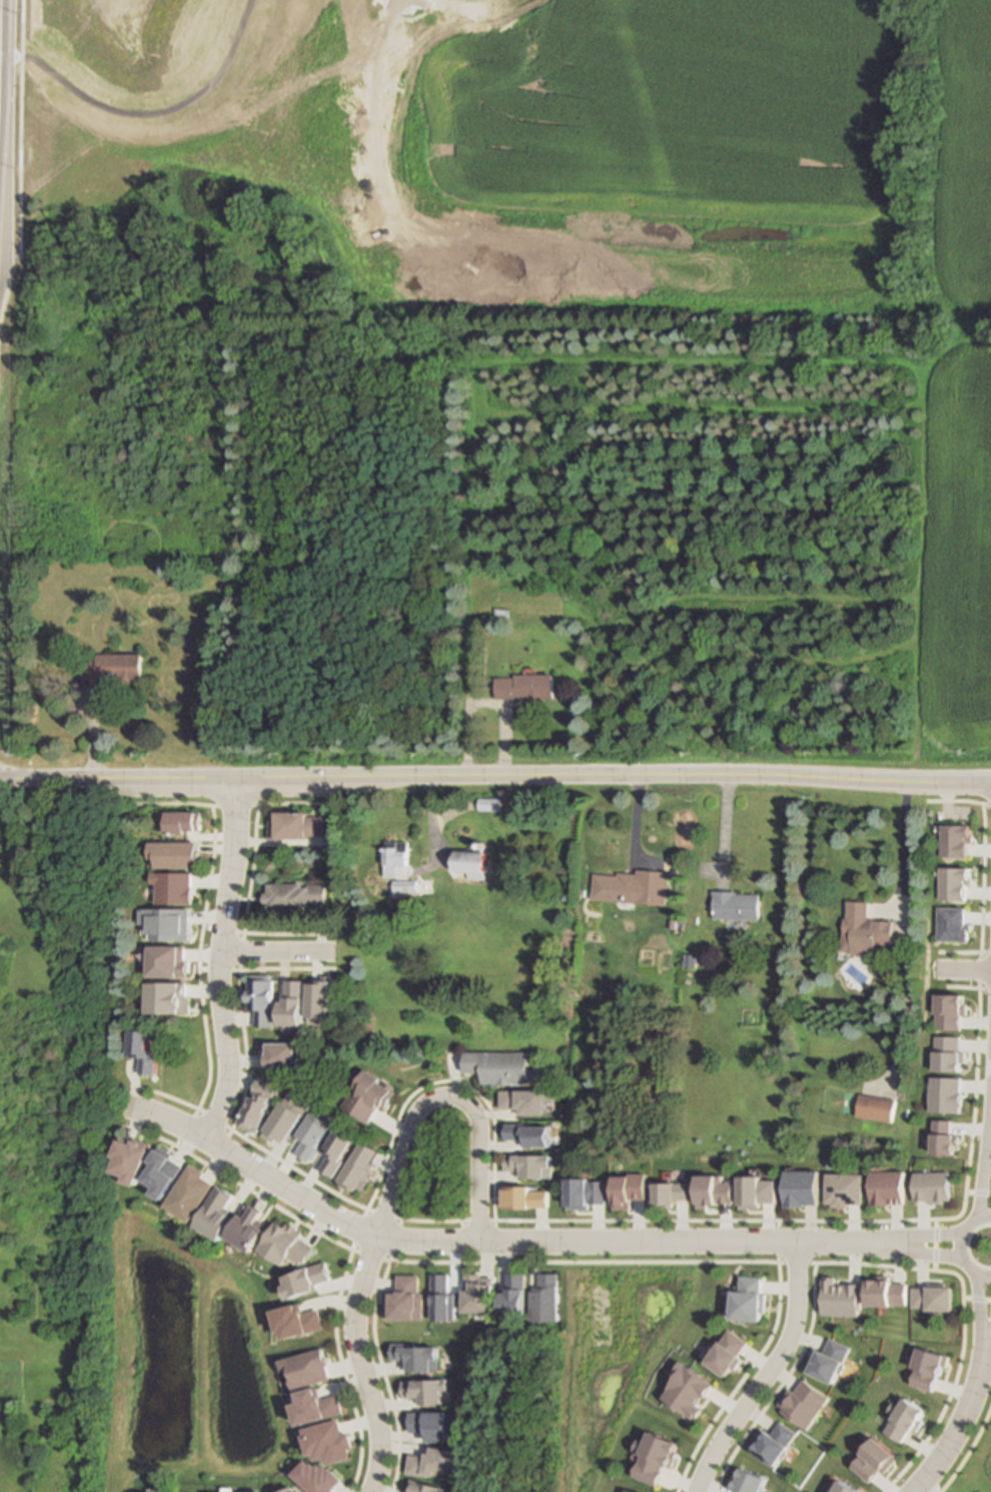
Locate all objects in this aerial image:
road: (373, 1)
road: (660, 17)
road: (898, 36)
road: (642, 53)
road: (375, 100)
road: (649, 107)
road: (147, 115)
road: (1, 127)
road: (21, 127)
road: (10, 255)
building: (114, 666)
building: (524, 685)
road: (495, 774)
building: (491, 803)
building: (183, 824)
building: (296, 825)
road: (726, 827)
road: (901, 852)
building: (172, 856)
building: (399, 857)
building: (473, 862)
building: (408, 885)
building: (629, 888)
building: (293, 897)
building: (675, 897)
building: (736, 902)
building: (864, 928)
road: (274, 952)
road: (217, 959)
building: (692, 959)
building: (33, 962)
road: (963, 970)
building: (260, 1003)
building: (140, 1050)
building: (498, 1064)
road: (443, 1094)
building: (371, 1095)
building: (877, 1105)
building: (527, 1133)
building: (130, 1158)
building: (528, 1164)
road: (254, 1170)
building: (165, 1172)
building: (932, 1188)
building: (887, 1189)
building: (191, 1191)
building: (670, 1195)
road: (984, 1195)
building: (217, 1213)
building: (249, 1226)
road: (940, 1238)
building: (290, 1241)
road: (647, 1241)
road: (961, 1246)
road: (940, 1252)
building: (307, 1282)
building: (479, 1292)
building: (932, 1292)
building: (887, 1294)
building: (404, 1295)
building: (546, 1297)
road: (980, 1298)
building: (298, 1319)
road: (988, 1319)
road: (987, 1357)
building: (418, 1359)
road: (360, 1364)
building: (306, 1365)
road: (769, 1375)
building: (425, 1393)
building: (315, 1402)
road: (965, 1415)
building: (904, 1422)
building: (434, 1465)
building: (315, 1478)
road: (929, 1486)
building: (422, 1488)
building: (631, 1490)

